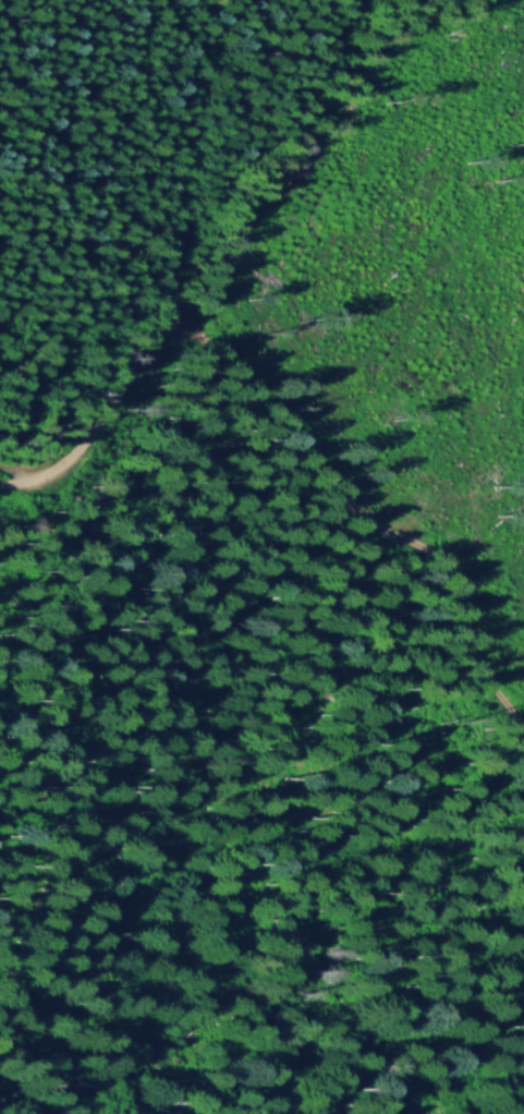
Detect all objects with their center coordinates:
road: (283, 421)
road: (24, 474)

